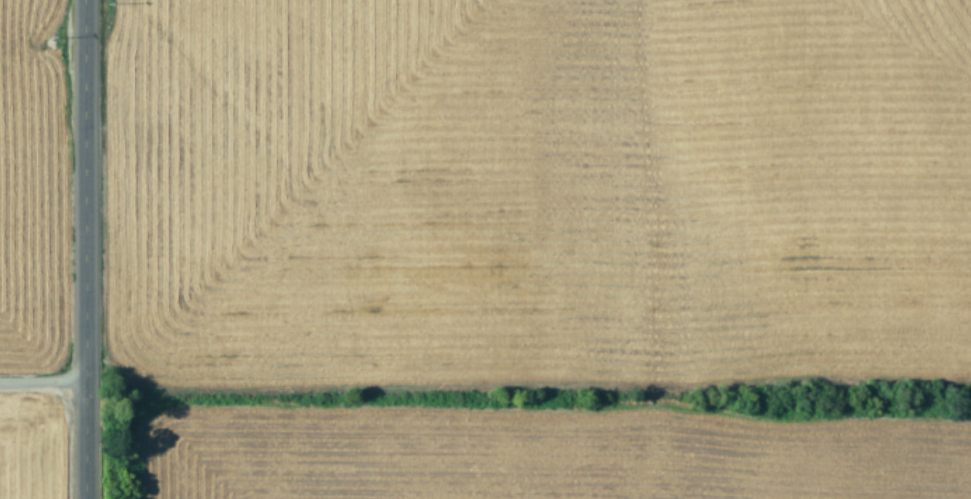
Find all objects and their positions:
road: (83, 249)
road: (41, 381)

